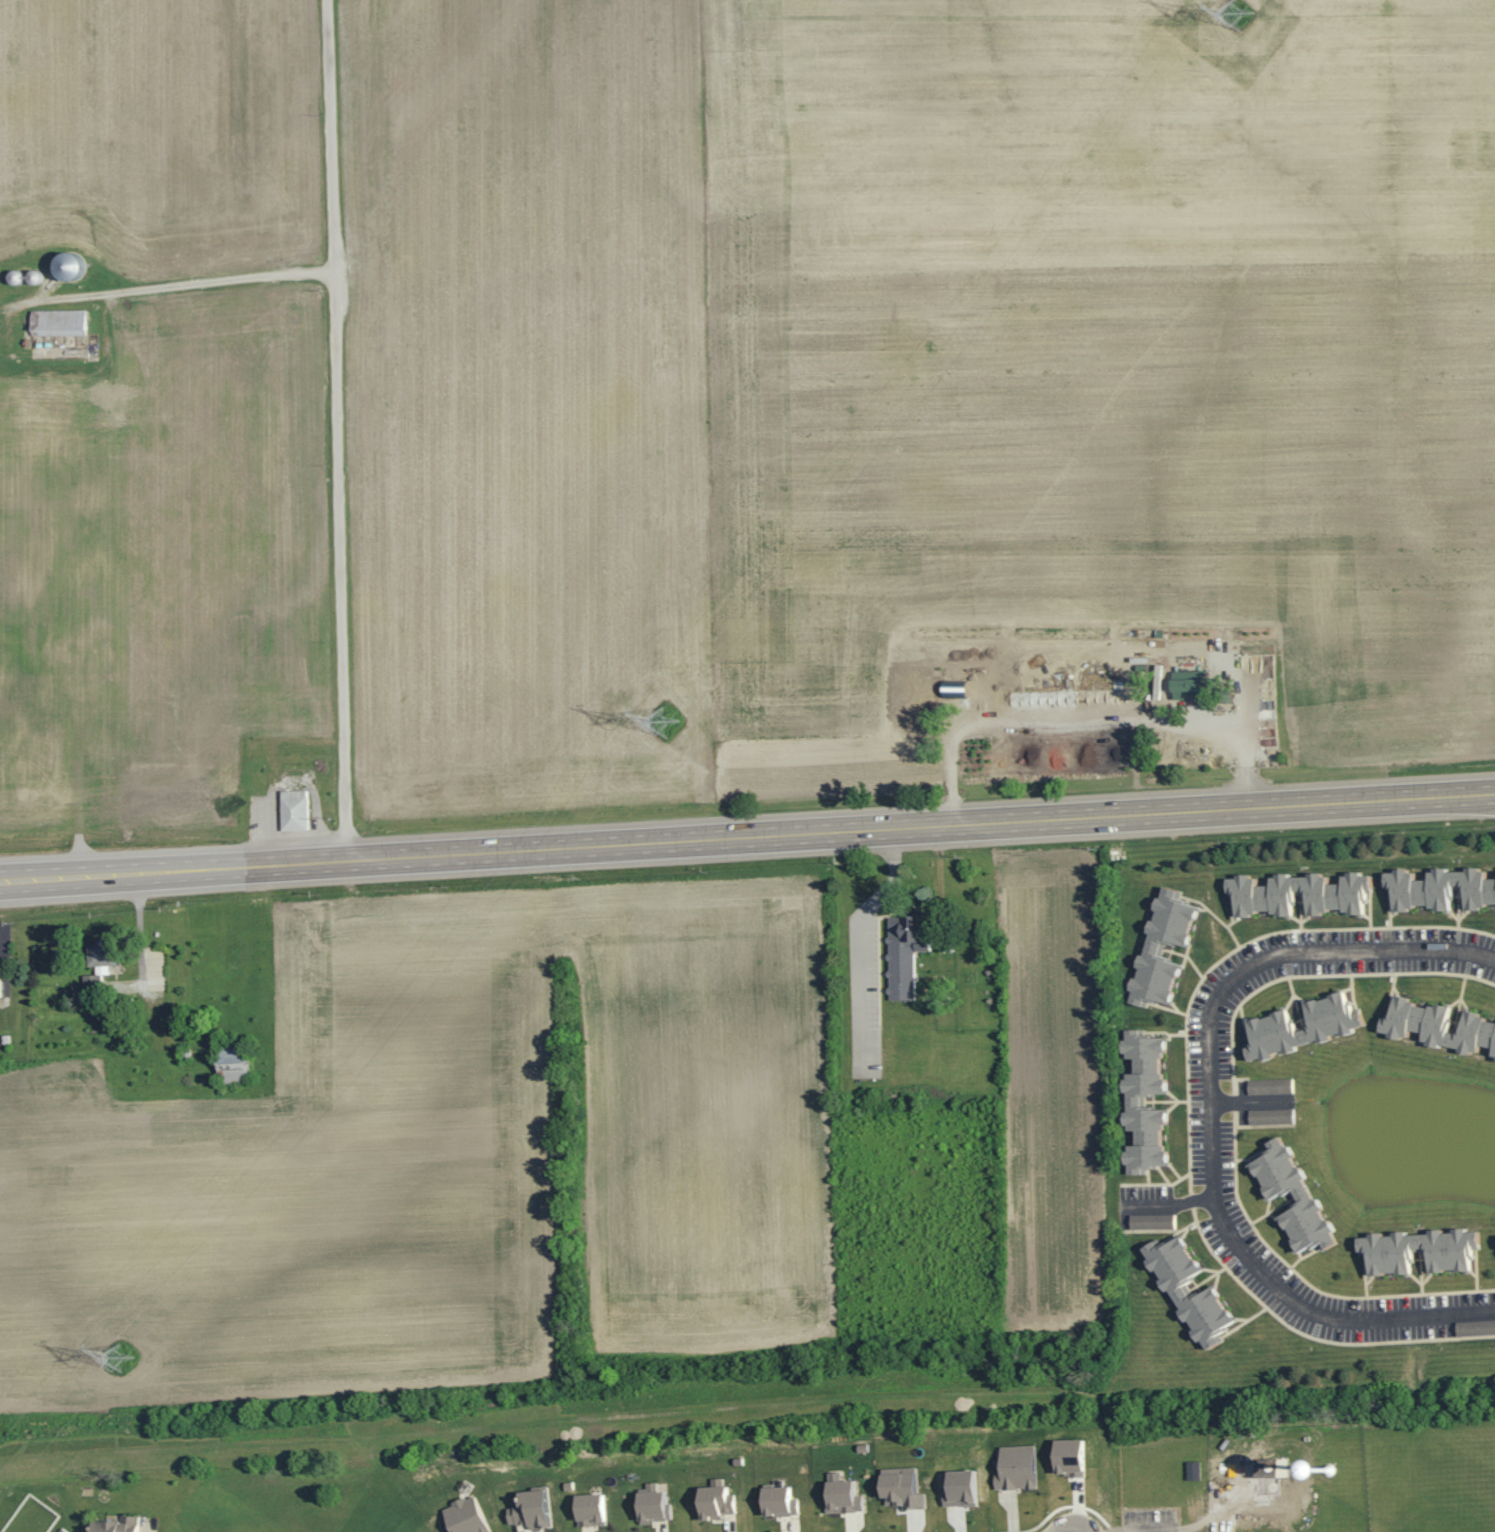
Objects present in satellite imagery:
power tower: (1238, 18)
building: (65, 266)
road: (181, 285)
building: (57, 322)
road: (338, 430)
building: (1188, 685)
road: (1087, 722)
power tower: (664, 724)
building: (294, 810)
road: (747, 838)
building: (1439, 889)
building: (1298, 894)
road: (857, 941)
building: (1161, 950)
building: (903, 955)
building: (98, 961)
building: (0, 993)
building: (1335, 1025)
building: (1438, 1027)
building: (233, 1070)
building: (1270, 1087)
building: (1133, 1103)
building: (1271, 1117)
road: (1213, 1122)
building: (1302, 1196)
road: (1167, 1207)
building: (1152, 1223)
building: (1418, 1252)
building: (1176, 1293)
building: (1475, 1329)
power tower: (122, 1360)
road: (765, 1411)
building: (1068, 1458)
road: (16, 1460)
building: (1015, 1469)
building: (1271, 1469)
building: (1193, 1471)
water tower: (1329, 1471)
park: (1313, 1483)
building: (900, 1490)
building: (841, 1496)
building: (715, 1503)
building: (778, 1503)
building: (652, 1508)
building: (531, 1511)
building: (589, 1511)
road: (1213, 1514)
building: (463, 1517)
parking lot: (1153, 1520)
building: (114, 1524)

